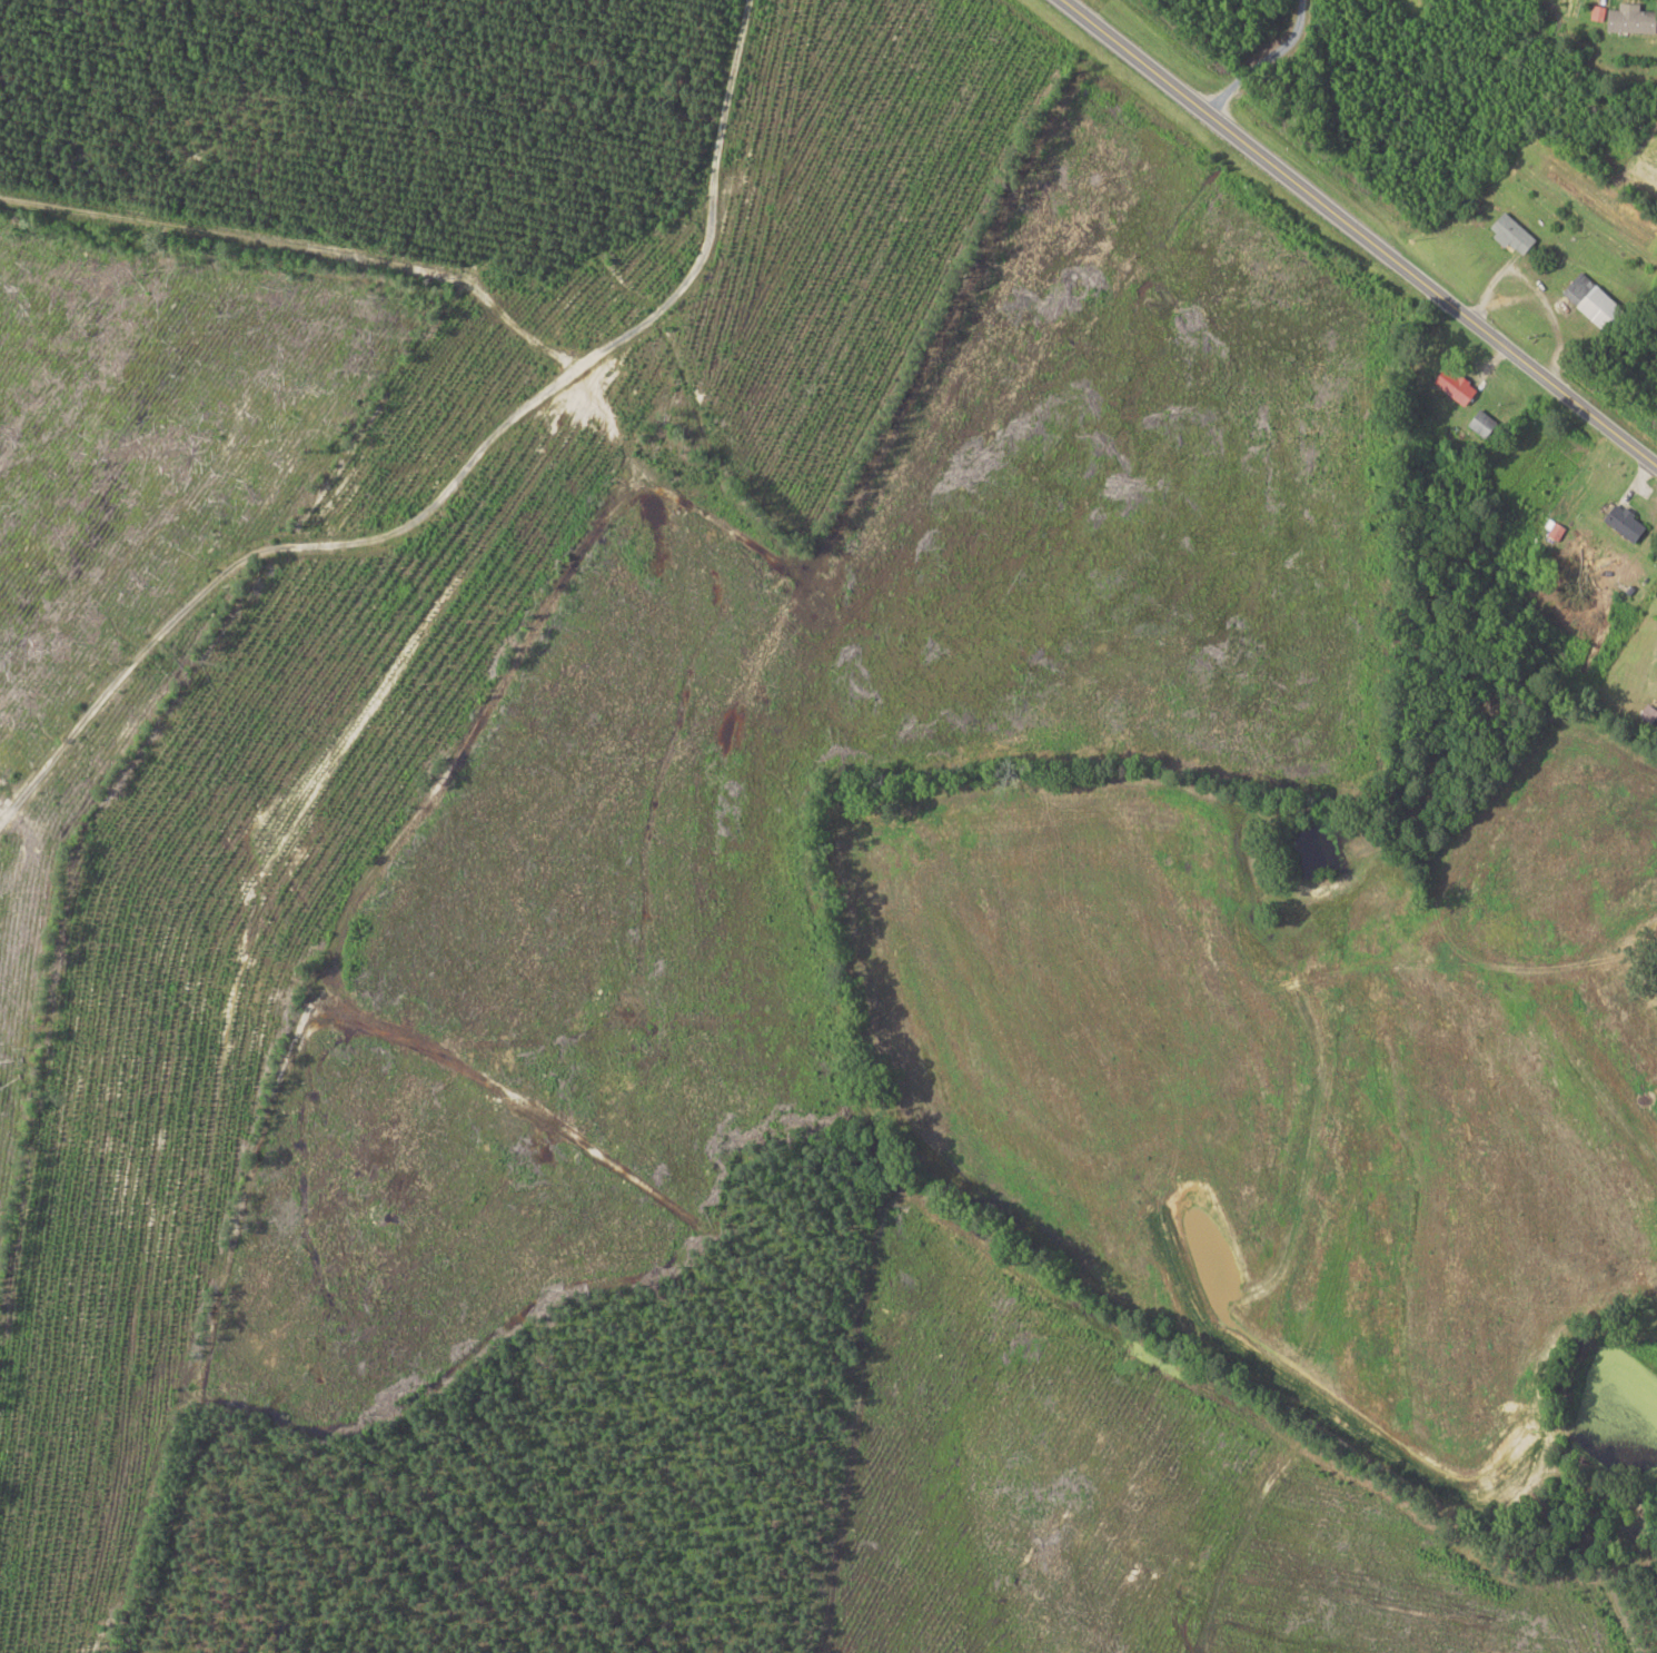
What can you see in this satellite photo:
building: (1613, 21)
building: (1506, 231)
road: (1352, 244)
building: (1584, 296)
building: (1449, 385)
building: (1478, 424)
building: (1618, 522)

